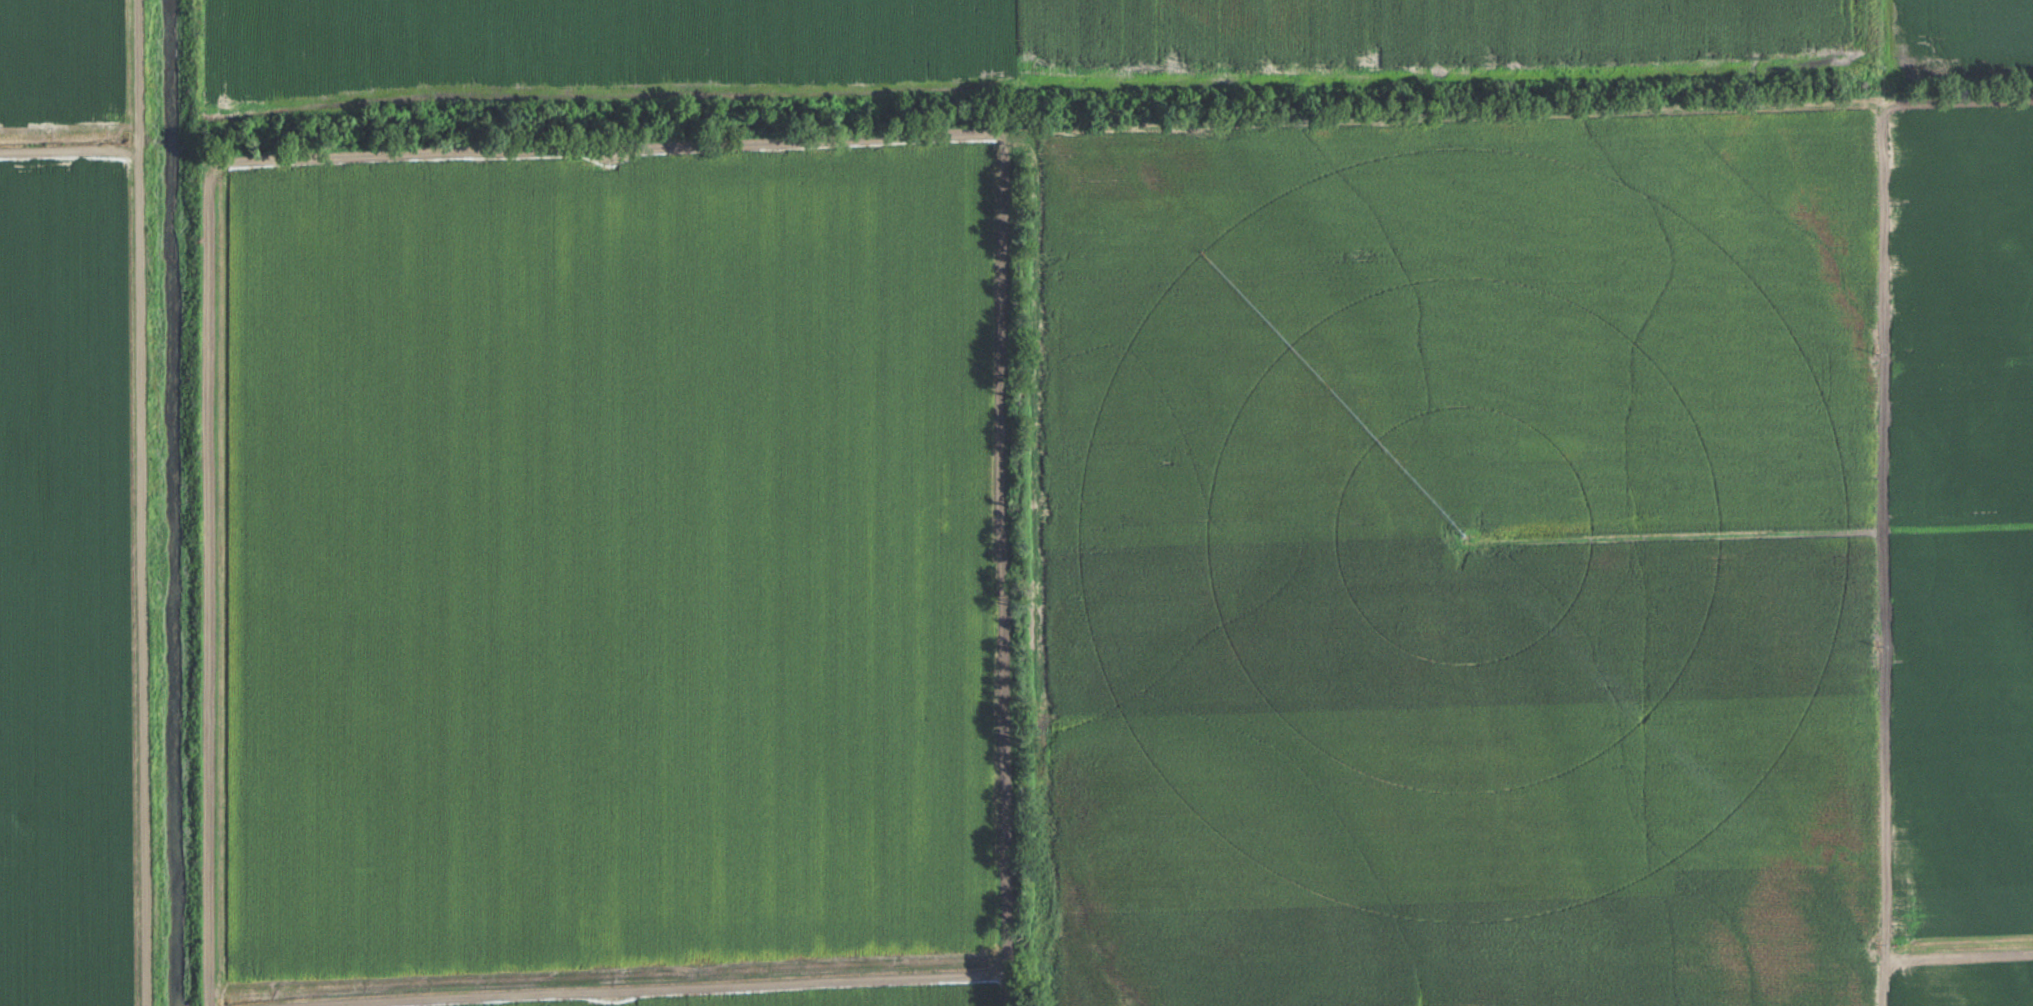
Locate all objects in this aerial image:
road: (1924, 935)

